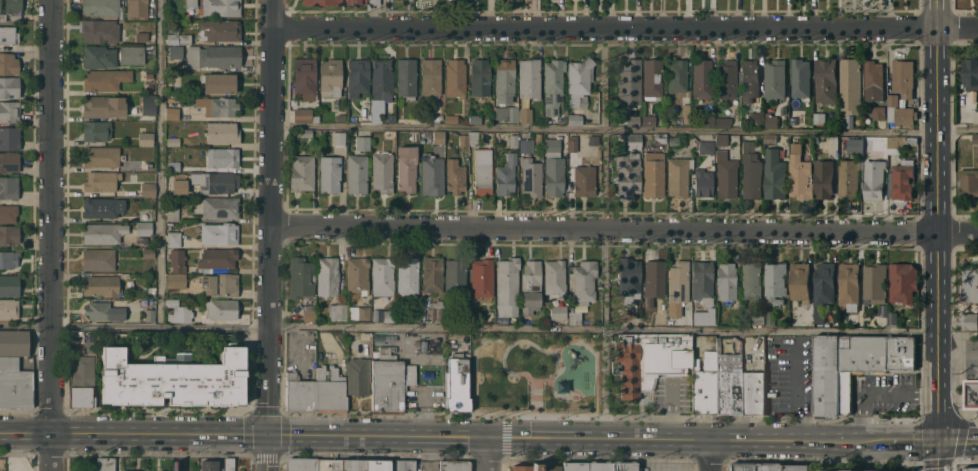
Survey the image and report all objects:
building: (322, 2)
building: (356, 2)
building: (374, 2)
building: (191, 3)
building: (0, 5)
building: (12, 6)
building: (221, 7)
building: (103, 8)
building: (137, 9)
road: (384, 13)
building: (16, 17)
road: (604, 26)
road: (956, 26)
building: (100, 30)
building: (220, 30)
building: (8, 35)
building: (141, 36)
building: (178, 38)
building: (175, 51)
building: (135, 53)
building: (213, 56)
building: (99, 57)
building: (9, 64)
road: (936, 65)
building: (971, 73)
building: (149, 75)
building: (677, 75)
building: (331, 77)
building: (358, 77)
building: (431, 77)
building: (480, 77)
building: (305, 78)
building: (406, 78)
building: (456, 78)
building: (530, 78)
building: (702, 78)
building: (801, 78)
building: (903, 78)
building: (105, 79)
building: (504, 79)
building: (652, 79)
building: (775, 80)
building: (826, 80)
building: (873, 80)
building: (580, 81)
building: (750, 81)
building: (219, 83)
building: (381, 83)
building: (629, 83)
building: (726, 83)
building: (851, 85)
building: (553, 86)
building: (9, 87)
building: (150, 87)
building: (902, 102)
building: (149, 105)
building: (104, 106)
building: (218, 106)
building: (9, 111)
building: (173, 111)
building: (769, 112)
building: (879, 112)
building: (900, 112)
building: (507, 113)
building: (686, 113)
building: (305, 115)
building: (525, 115)
building: (808, 116)
building: (975, 116)
building: (341, 117)
building: (391, 117)
building: (353, 118)
building: (451, 118)
building: (756, 118)
building: (820, 118)
building: (436, 119)
building: (475, 119)
building: (575, 119)
building: (632, 120)
building: (648, 120)
building: (708, 121)
building: (771, 121)
building: (841, 121)
building: (723, 122)
road: (596, 127)
road: (956, 129)
building: (96, 130)
road: (927, 131)
building: (222, 132)
building: (405, 132)
building: (305, 133)
building: (538, 136)
building: (438, 137)
building: (10, 138)
building: (146, 138)
building: (339, 138)
building: (474, 138)
building: (660, 138)
building: (771, 138)
building: (975, 138)
building: (464, 139)
building: (513, 140)
building: (722, 140)
building: (173, 141)
building: (634, 141)
building: (363, 143)
building: (573, 143)
building: (899, 143)
building: (526, 145)
building: (552, 145)
building: (855, 146)
building: (706, 147)
road: (936, 153)
building: (102, 157)
building: (222, 157)
building: (9, 161)
road: (162, 163)
building: (146, 164)
building: (173, 166)
building: (407, 168)
building: (382, 171)
building: (482, 171)
building: (751, 171)
building: (302, 172)
building: (800, 173)
building: (330, 174)
building: (357, 174)
building: (432, 174)
building: (628, 174)
building: (653, 174)
building: (506, 175)
building: (726, 175)
building: (775, 175)
building: (455, 176)
building: (531, 176)
building: (554, 176)
building: (677, 177)
building: (824, 178)
building: (848, 179)
building: (874, 179)
building: (584, 180)
building: (904, 180)
building: (101, 181)
building: (214, 181)
building: (179, 183)
building: (703, 183)
building: (969, 183)
building: (9, 187)
building: (148, 189)
road: (935, 203)
building: (101, 207)
building: (217, 207)
building: (8, 213)
building: (173, 213)
road: (52, 216)
road: (272, 217)
road: (570, 226)
building: (144, 228)
road: (902, 230)
road: (606, 232)
road: (956, 232)
building: (103, 233)
building: (219, 233)
building: (9, 234)
building: (174, 239)
building: (143, 240)
building: (148, 253)
building: (218, 258)
building: (8, 259)
building: (99, 259)
building: (177, 260)
building: (432, 274)
building: (358, 275)
building: (408, 276)
building: (301, 277)
building: (383, 277)
building: (456, 277)
building: (555, 277)
building: (482, 278)
building: (629, 279)
building: (176, 280)
building: (751, 280)
building: (584, 281)
building: (653, 281)
building: (702, 281)
building: (726, 281)
building: (800, 281)
building: (678, 282)
building: (775, 282)
building: (903, 282)
building: (875, 283)
building: (220, 284)
road: (937, 284)
building: (969, 284)
building: (9, 285)
building: (507, 285)
building: (102, 286)
building: (331, 287)
building: (531, 287)
building: (849, 287)
building: (824, 289)
building: (968, 306)
building: (9, 309)
building: (107, 309)
building: (217, 311)
building: (437, 311)
building: (179, 312)
building: (359, 312)
building: (558, 312)
building: (309, 313)
building: (390, 314)
building: (150, 315)
building: (704, 317)
building: (575, 318)
building: (758, 318)
building: (770, 318)
building: (892, 318)
building: (968, 321)
road: (303, 327)
road: (773, 333)
road: (958, 335)
building: (14, 343)
building: (89, 347)
road: (958, 353)
building: (761, 357)
building: (650, 360)
building: (855, 367)
building: (358, 376)
building: (173, 380)
building: (82, 382)
building: (390, 382)
building: (458, 383)
park: (540, 383)
building: (705, 383)
building: (728, 383)
building: (15, 384)
road: (939, 388)
building: (317, 391)
building: (752, 393)
road: (878, 394)
building: (971, 394)
traffic signals: (269, 434)
road: (440, 435)
road: (910, 440)
traffic signals: (940, 441)
road: (959, 441)
road: (53, 452)
road: (269, 452)
road: (491, 453)
parking lot: (674, 454)
road: (710, 455)
road: (939, 456)
building: (106, 464)
building: (300, 464)
building: (208, 465)
building: (229, 465)
building: (329, 465)
building: (353, 465)
building: (378, 465)
building: (402, 466)
building: (455, 466)
building: (575, 466)
building: (599, 466)
building: (623, 466)
building: (743, 466)
building: (772, 466)
building: (534, 467)
building: (798, 467)
building: (970, 468)
building: (0, 470)
building: (129, 470)
building: (836, 470)
building: (877, 470)

